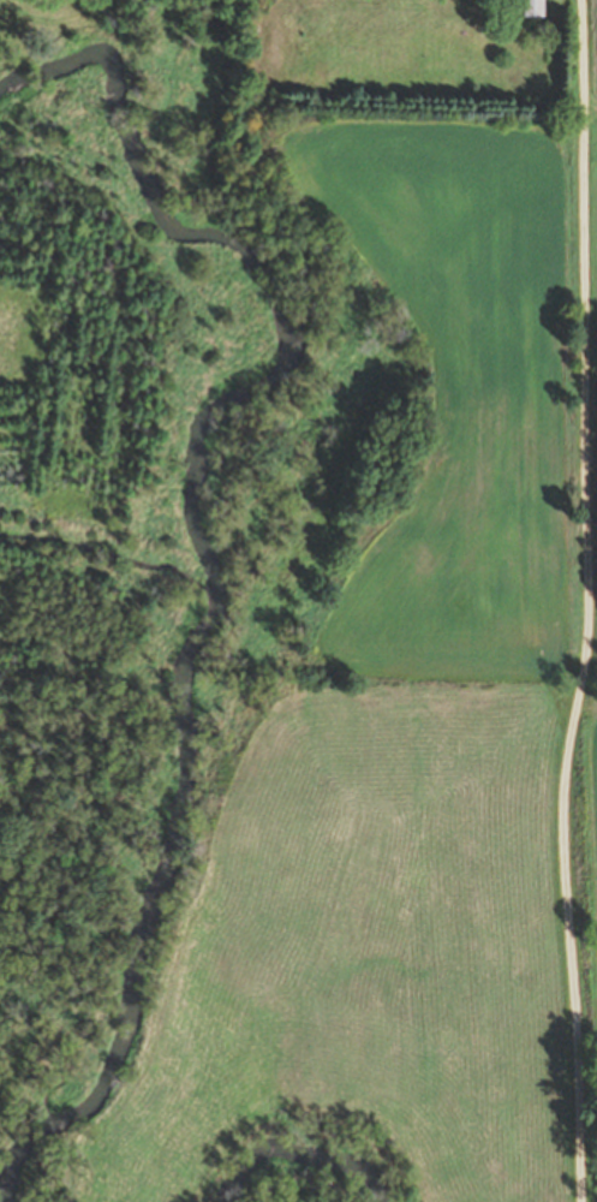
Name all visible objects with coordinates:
building: (535, 8)
river: (215, 542)
road: (585, 601)
river: (293, 1156)

